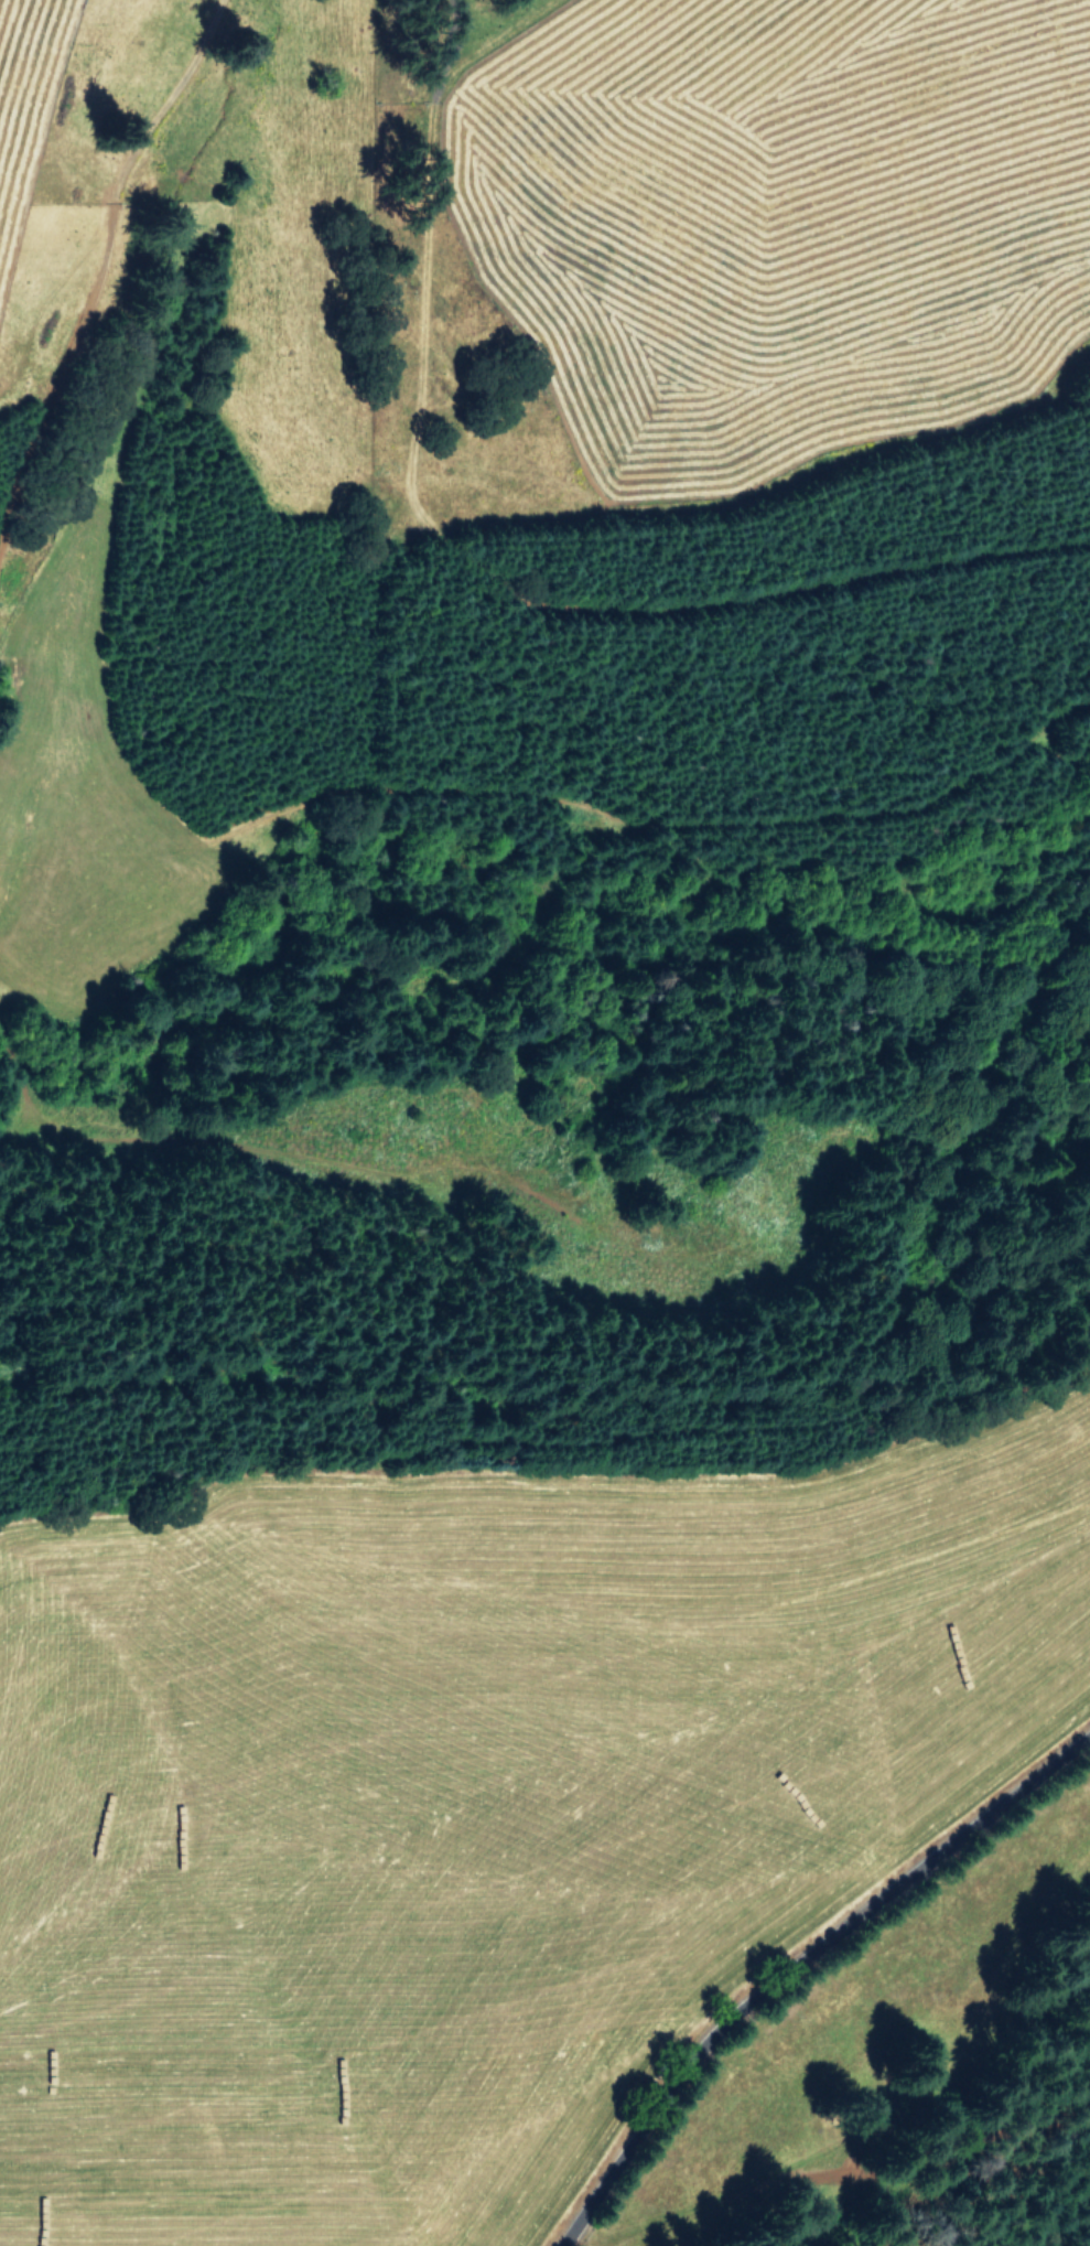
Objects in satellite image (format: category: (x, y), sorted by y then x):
crop: (56, 84)
crop: (770, 208)
road: (105, 265)
road: (80, 1125)
road: (797, 1966)

